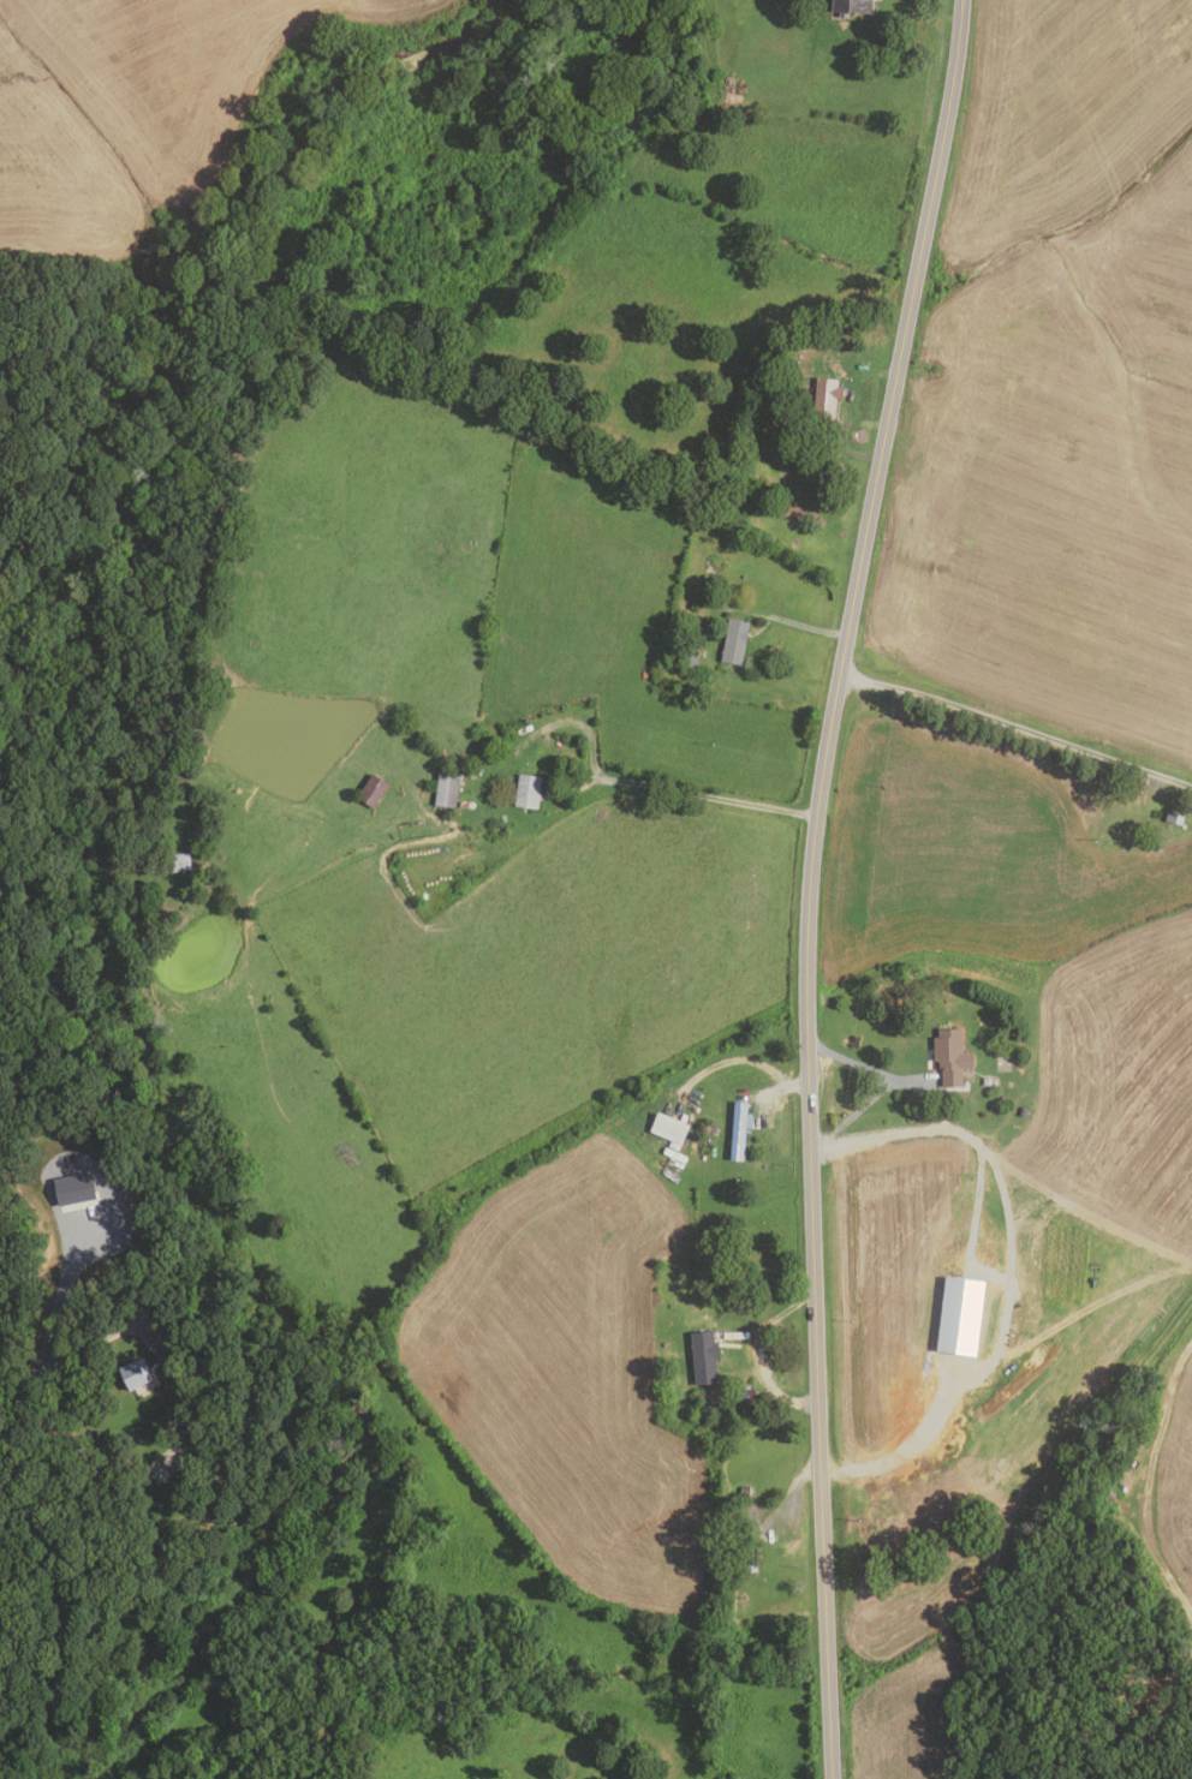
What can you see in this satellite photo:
building: (851, 6)
road: (871, 370)
building: (769, 396)
building: (824, 399)
building: (770, 410)
building: (753, 476)
road: (792, 622)
building: (734, 643)
building: (691, 657)
road: (1017, 727)
road: (621, 782)
building: (372, 790)
building: (446, 792)
building: (528, 792)
building: (1174, 818)
building: (174, 862)
road: (810, 882)
building: (952, 1055)
road: (744, 1059)
building: (988, 1081)
road: (884, 1088)
road: (773, 1092)
building: (1023, 1110)
building: (709, 1126)
building: (668, 1127)
building: (738, 1128)
building: (673, 1145)
building: (73, 1187)
road: (1009, 1273)
road: (59, 1297)
building: (960, 1314)
road: (755, 1351)
road: (68, 1357)
building: (704, 1357)
building: (135, 1373)
building: (703, 1396)
building: (180, 1451)
building: (156, 1479)
building: (744, 1491)
road: (791, 1499)
building: (750, 1545)

